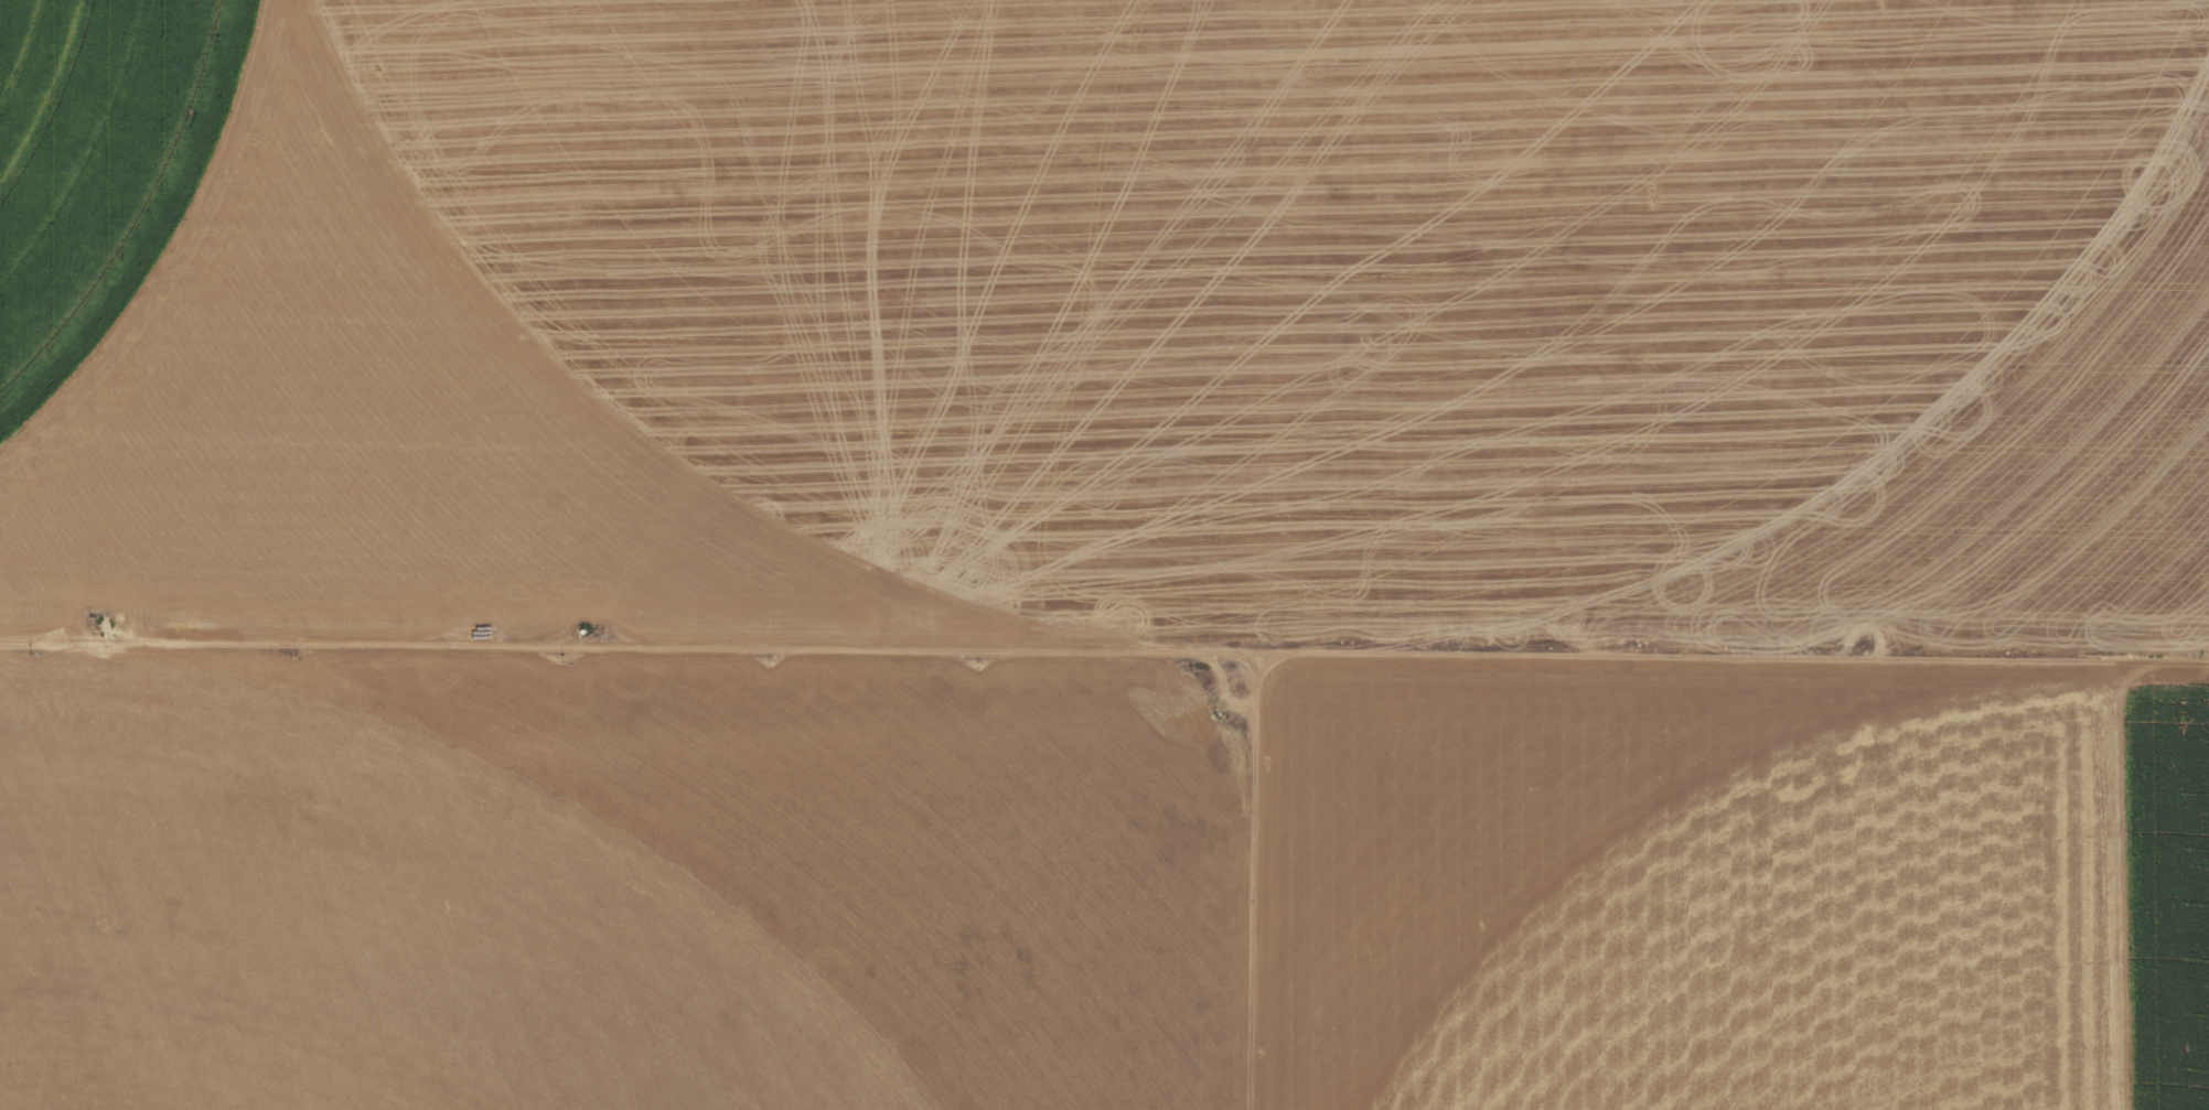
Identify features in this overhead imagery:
road: (610, 669)
road: (1222, 893)

